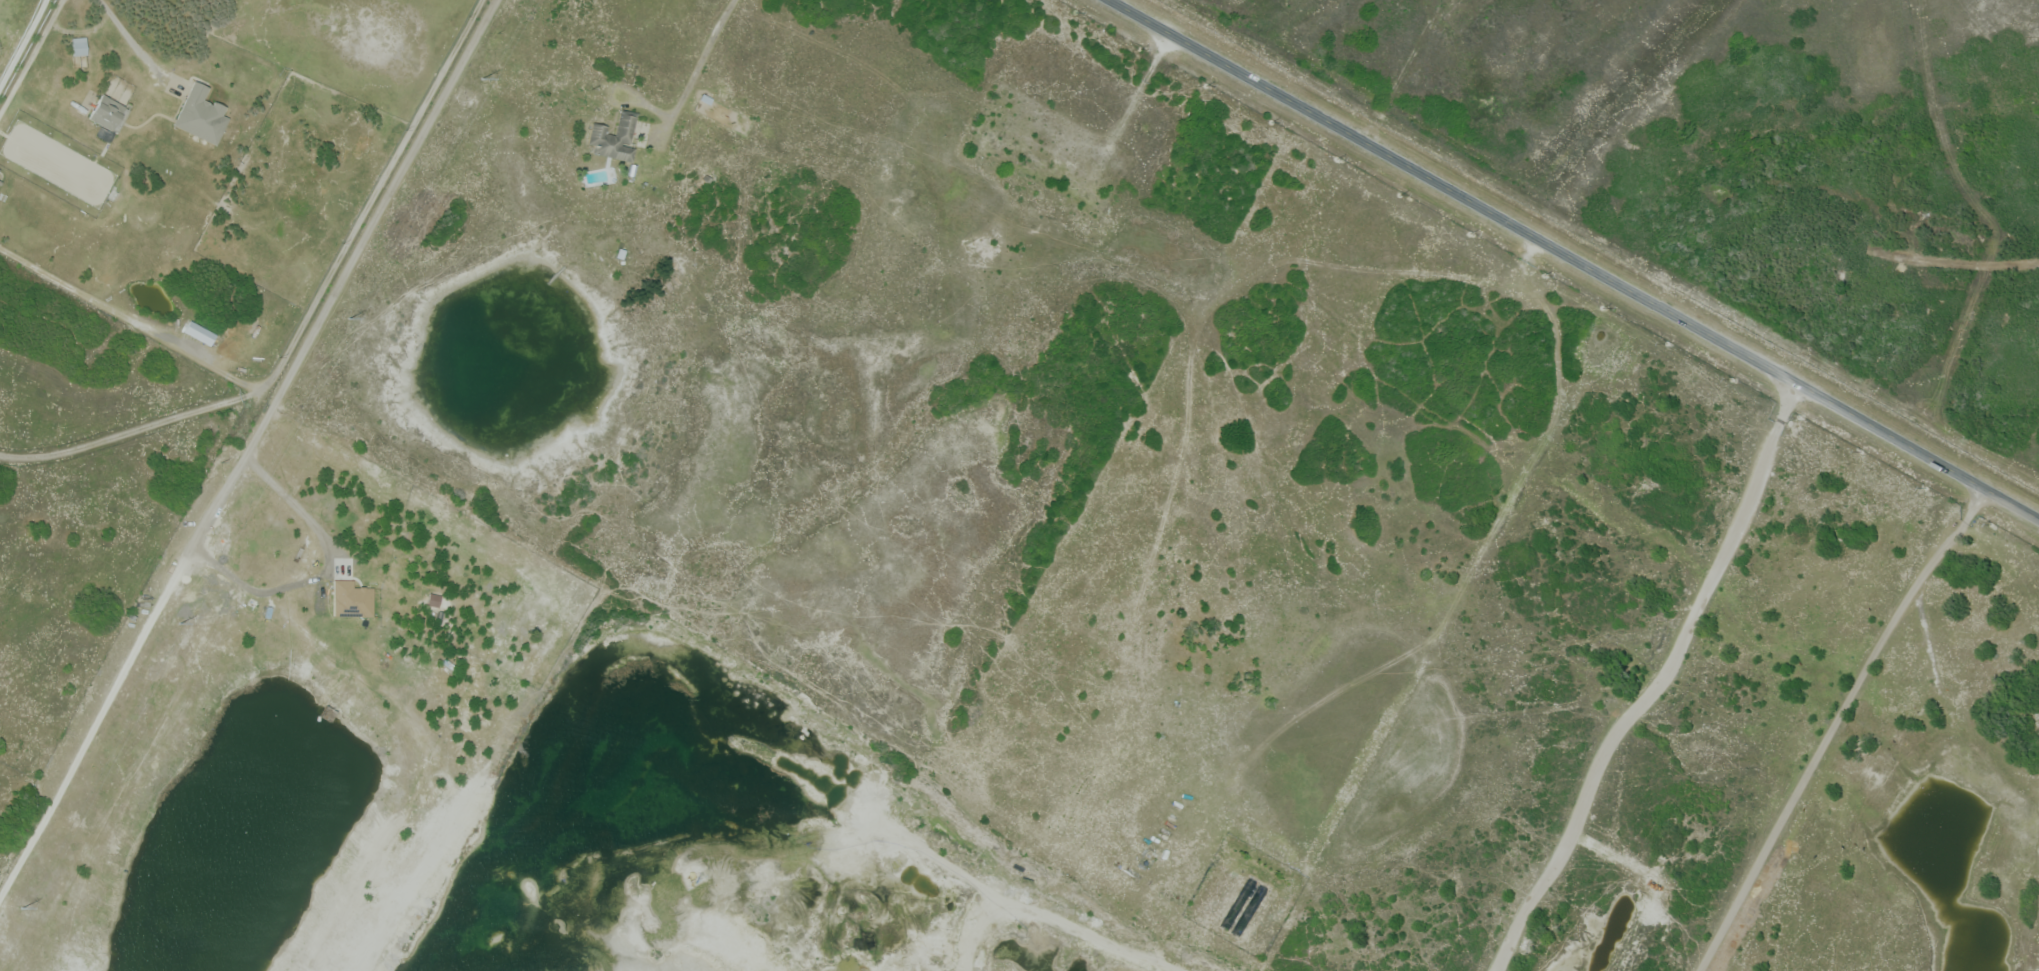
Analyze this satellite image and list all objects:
building: (79, 46)
road: (697, 71)
building: (109, 113)
building: (201, 114)
building: (615, 138)
airport: (1745, 164)
building: (1, 182)
road: (1574, 260)
road: (333, 293)
road: (307, 313)
building: (198, 332)
building: (351, 599)
road: (1835, 725)

